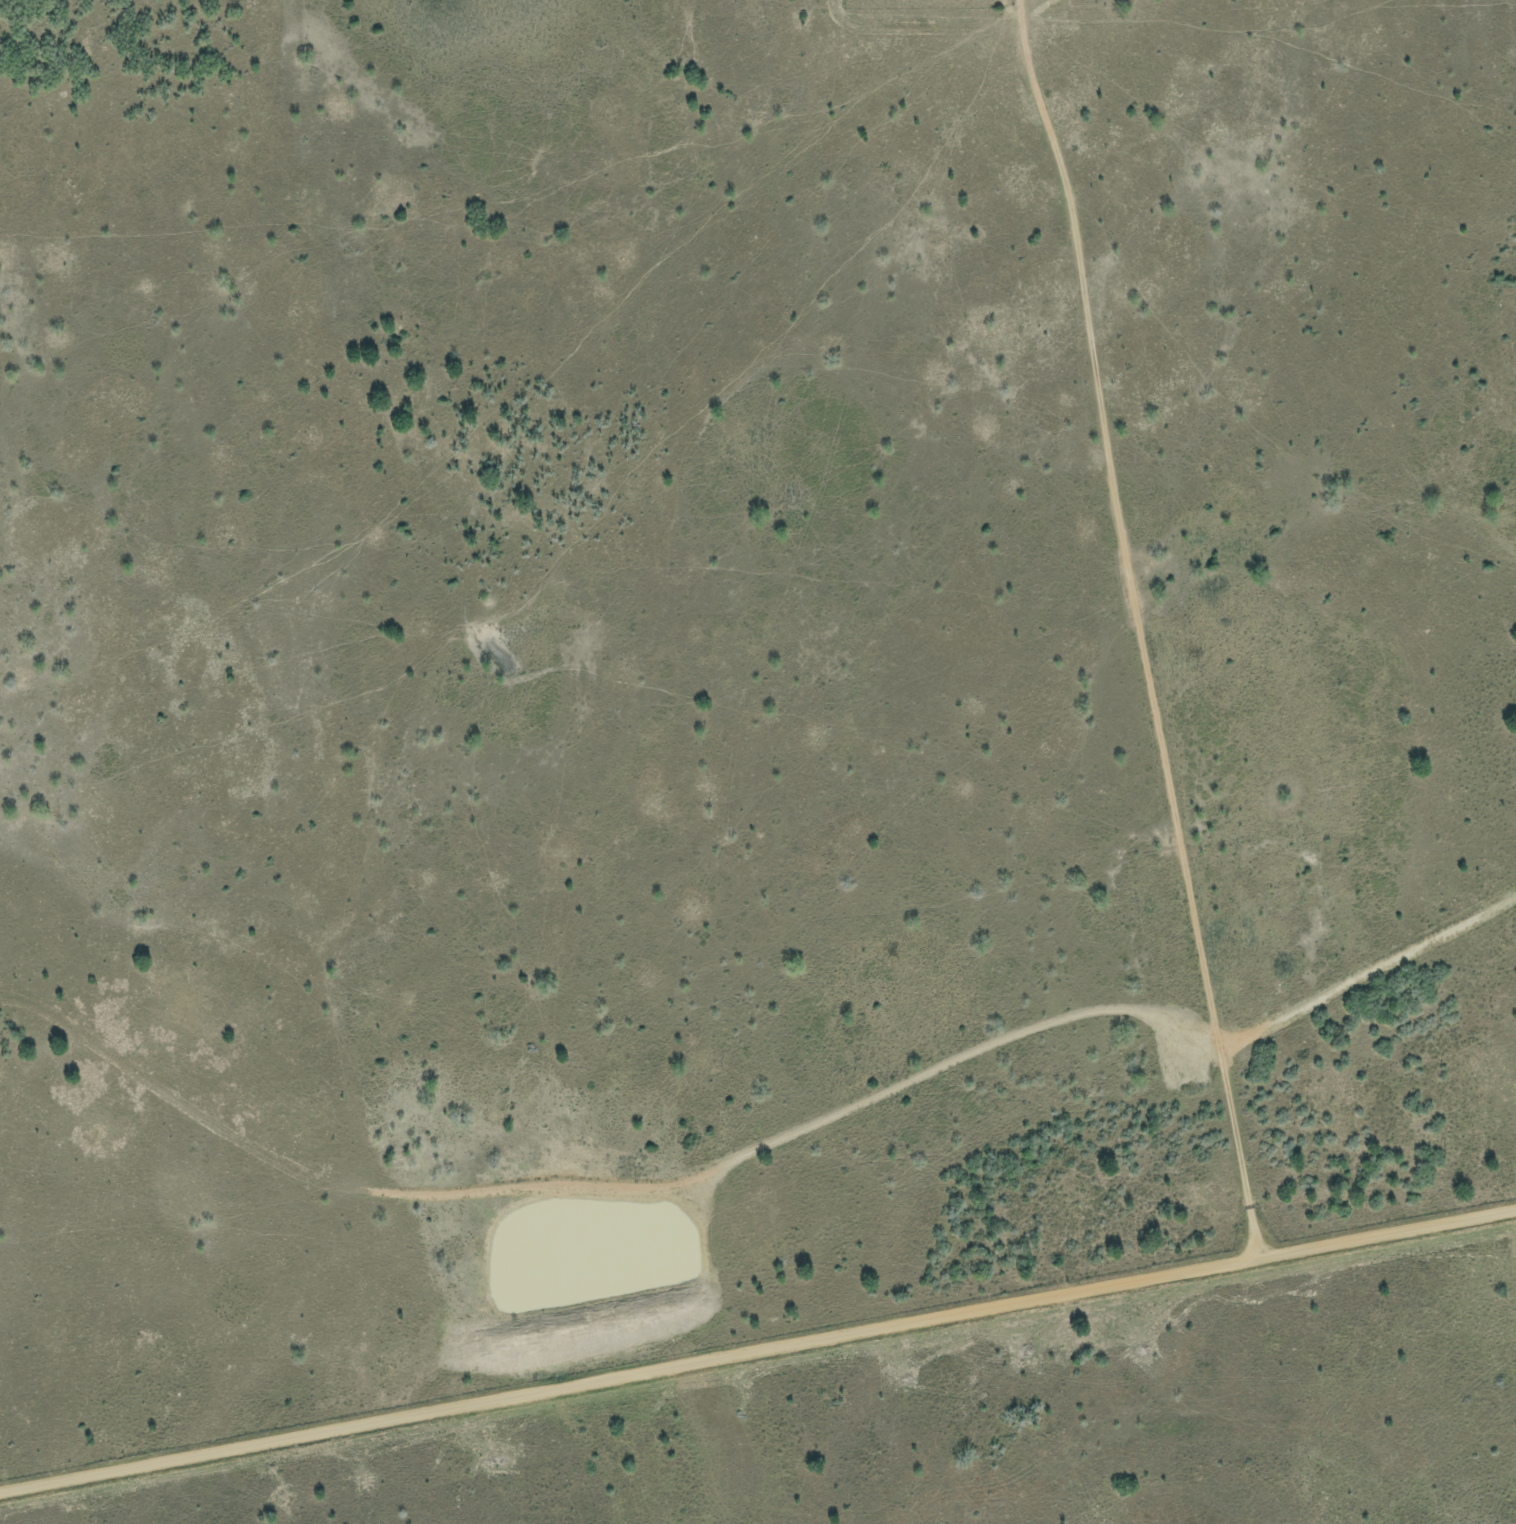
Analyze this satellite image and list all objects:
road: (757, 1348)

